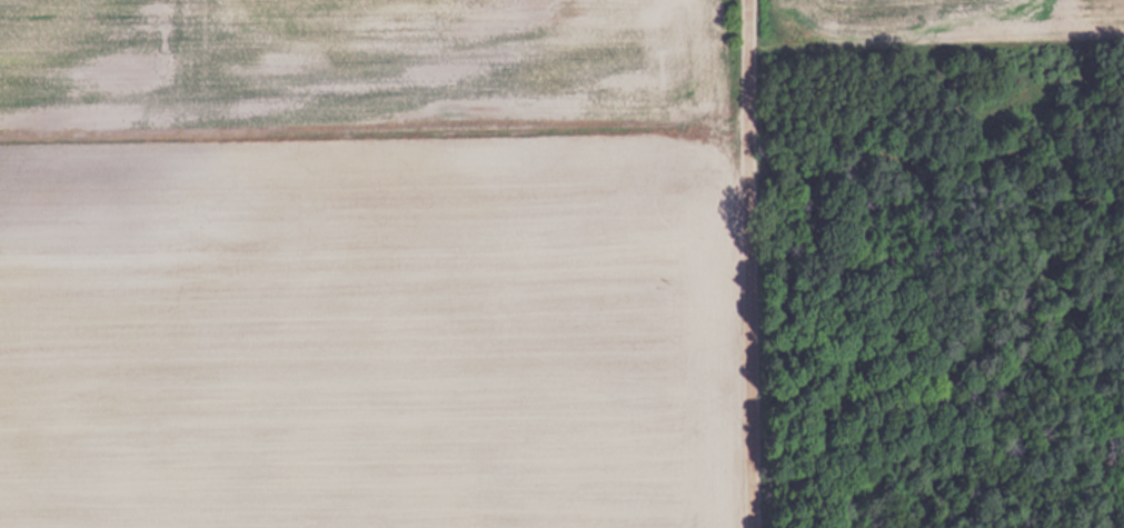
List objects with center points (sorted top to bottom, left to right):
road: (750, 263)

